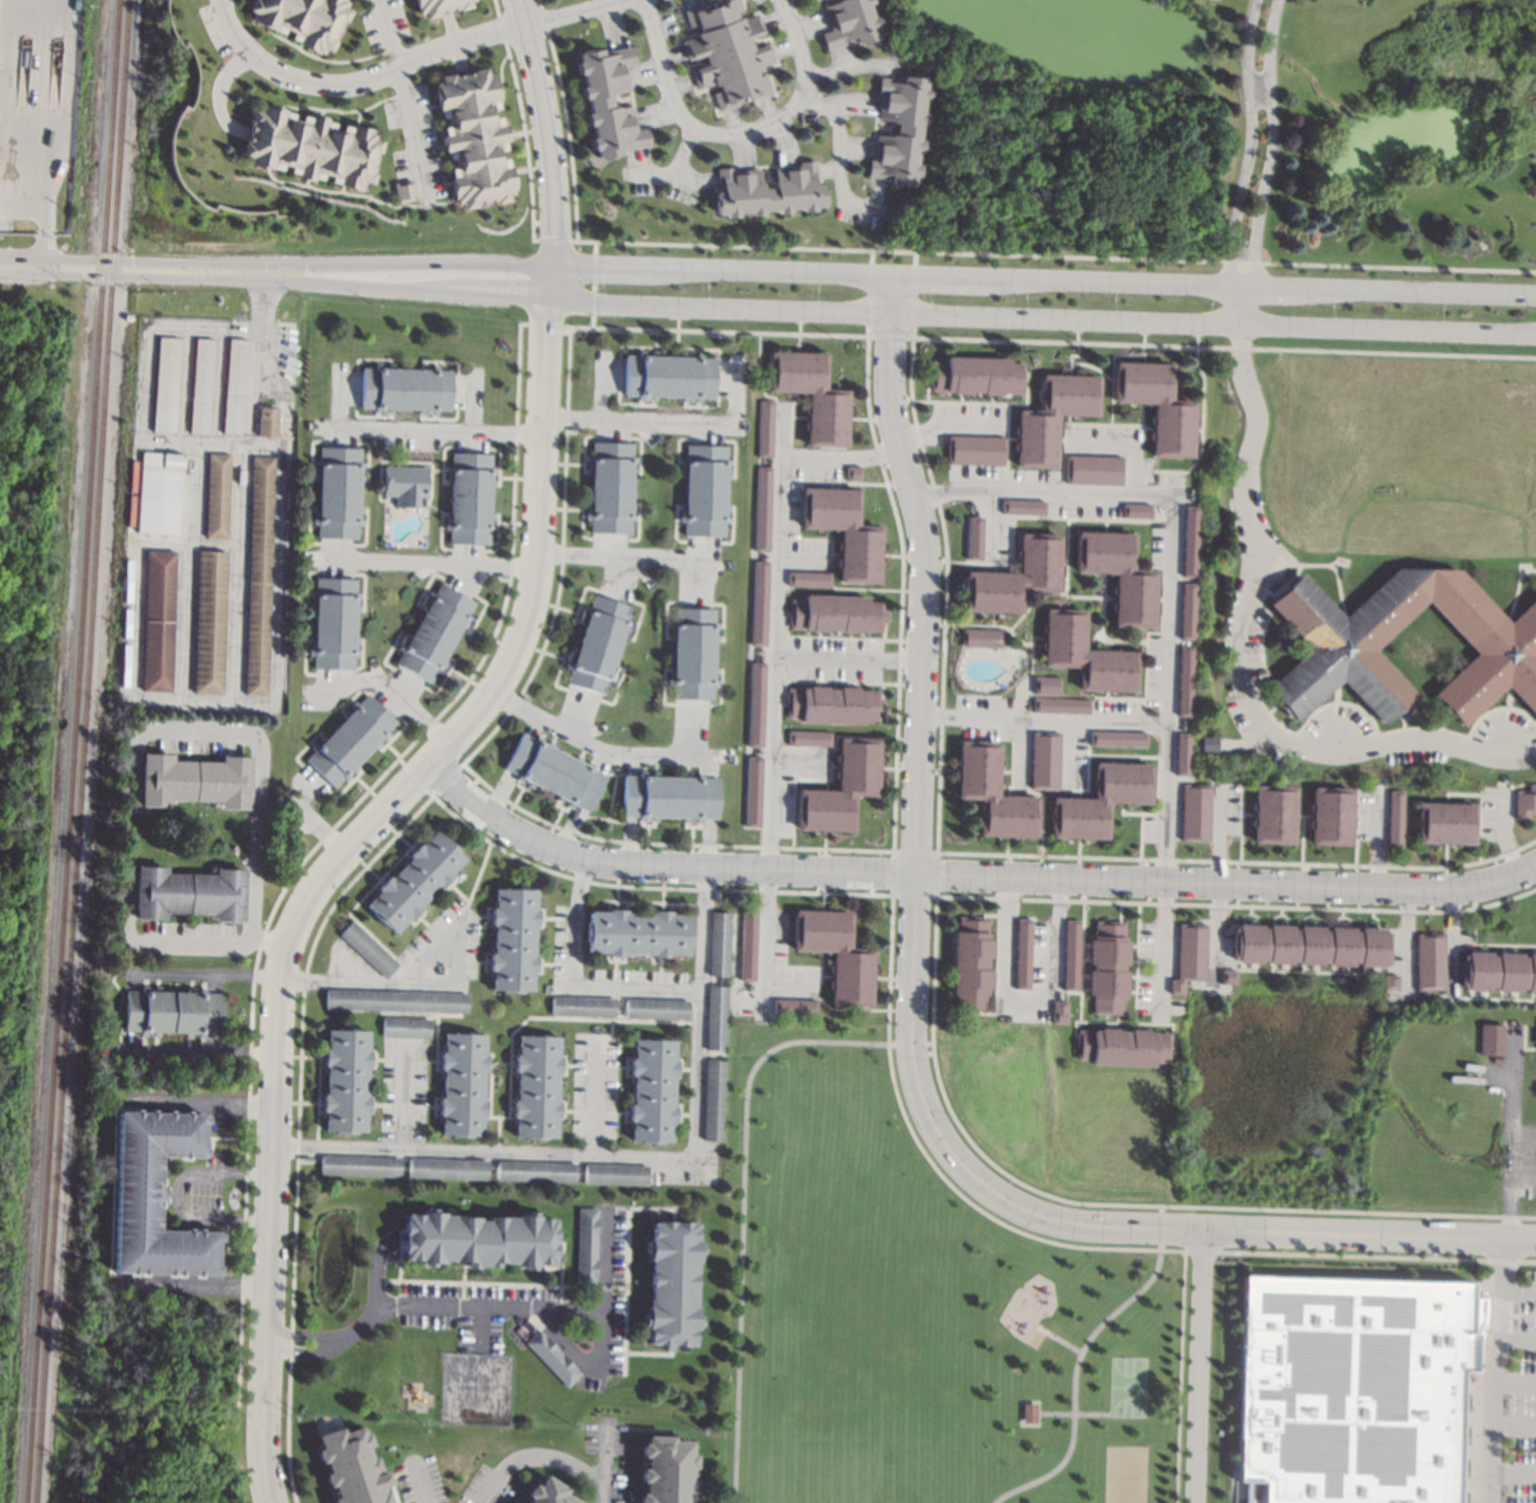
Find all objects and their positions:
building: (438, 7)
road: (574, 13)
building: (304, 19)
building: (849, 22)
road: (388, 34)
building: (728, 52)
road: (354, 81)
road: (218, 83)
building: (610, 101)
road: (410, 128)
building: (900, 129)
road: (735, 130)
road: (32, 131)
building: (473, 139)
road: (546, 140)
building: (312, 147)
road: (683, 149)
road: (839, 150)
road: (1258, 162)
road: (665, 173)
building: (768, 191)
building: (403, 192)
road: (152, 262)
road: (600, 265)
road: (20, 266)
road: (694, 268)
road: (814, 272)
road: (940, 276)
road: (152, 278)
road: (408, 278)
road: (1114, 282)
road: (1263, 287)
road: (1411, 290)
building: (127, 316)
road: (1041, 318)
road: (265, 323)
road: (276, 365)
building: (976, 376)
building: (669, 377)
road: (249, 382)
building: (165, 384)
building: (234, 386)
building: (200, 387)
building: (405, 388)
building: (812, 394)
building: (1156, 405)
building: (1051, 417)
road: (639, 421)
building: (267, 422)
road: (281, 424)
road: (952, 427)
building: (765, 428)
building: (572, 430)
road: (432, 433)
road: (246, 435)
road: (237, 440)
road: (1125, 445)
building: (974, 450)
road: (844, 455)
building: (1093, 470)
building: (853, 473)
building: (405, 485)
building: (610, 487)
building: (704, 490)
building: (337, 492)
building: (159, 493)
building: (216, 495)
building: (468, 498)
building: (1024, 507)
building: (762, 509)
building: (1135, 510)
road: (990, 524)
building: (844, 531)
building: (975, 539)
road: (537, 540)
building: (1189, 541)
road: (804, 559)
road: (628, 560)
road: (1174, 560)
road: (425, 566)
road: (931, 571)
building: (258, 575)
building: (1118, 575)
building: (501, 576)
building: (1014, 577)
building: (808, 579)
building: (759, 603)
building: (1187, 611)
building: (835, 614)
building: (157, 620)
building: (208, 621)
building: (332, 623)
building: (433, 632)
building: (1342, 635)
building: (982, 638)
road: (779, 640)
building: (598, 644)
building: (692, 653)
building: (1085, 654)
road: (853, 662)
road: (1237, 663)
building: (1186, 681)
building: (1046, 685)
road: (393, 692)
building: (525, 698)
building: (756, 704)
building: (833, 704)
building: (1060, 705)
road: (1047, 720)
building: (127, 725)
building: (809, 738)
building: (1117, 738)
building: (349, 740)
road: (255, 743)
building: (1208, 743)
road: (1340, 745)
road: (597, 746)
railway: (71, 751)
railway: (81, 751)
road: (1506, 753)
road: (1069, 754)
building: (1183, 754)
building: (1045, 760)
building: (554, 772)
building: (194, 780)
building: (841, 789)
building: (752, 791)
building: (992, 793)
building: (670, 797)
building: (1101, 800)
building: (1524, 801)
building: (1194, 812)
building: (1272, 814)
building: (1330, 816)
building: (1394, 818)
road: (317, 822)
building: (1445, 823)
road: (1504, 830)
road: (1221, 834)
road: (1376, 839)
road: (658, 866)
building: (414, 881)
road: (1088, 881)
road: (1400, 891)
building: (188, 893)
building: (716, 897)
road: (1219, 924)
building: (638, 933)
building: (512, 939)
road: (1406, 939)
road: (176, 942)
building: (719, 944)
road: (768, 944)
building: (748, 945)
building: (1308, 945)
building: (367, 949)
road: (914, 950)
building: (835, 953)
road: (1161, 953)
building: (1022, 954)
building: (1070, 955)
building: (1189, 956)
building: (1428, 960)
building: (970, 964)
building: (1106, 967)
building: (1497, 971)
building: (1226, 976)
road: (202, 977)
building: (1389, 981)
road: (443, 982)
road: (574, 983)
road: (792, 989)
road: (1025, 999)
building: (396, 1000)
building: (582, 1006)
building: (795, 1006)
building: (656, 1008)
building: (172, 1011)
building: (1058, 1012)
building: (718, 1017)
building: (404, 1027)
building: (1490, 1039)
building: (1121, 1046)
road: (195, 1053)
building: (1496, 1060)
building: (344, 1080)
building: (461, 1083)
building: (536, 1086)
building: (652, 1089)
road: (403, 1096)
road: (595, 1099)
building: (713, 1100)
road: (202, 1105)
road: (278, 1107)
road: (1509, 1132)
road: (1522, 1134)
road: (628, 1156)
building: (304, 1158)
parking lot: (1522, 1160)
building: (359, 1166)
building: (447, 1168)
building: (535, 1171)
building: (615, 1173)
road: (1522, 1176)
road: (174, 1194)
building: (155, 1196)
road: (743, 1201)
road: (1107, 1227)
building: (477, 1239)
road: (1479, 1239)
building: (584, 1246)
building: (670, 1283)
road: (195, 1286)
road: (376, 1286)
road: (1520, 1290)
road: (464, 1306)
park: (922, 1310)
road: (480, 1329)
road: (1518, 1334)
road: (302, 1336)
road: (601, 1337)
road: (303, 1349)
building: (551, 1358)
road: (1198, 1366)
road: (1074, 1371)
road: (1493, 1371)
road: (1514, 1381)
park: (1128, 1388)
building: (1353, 1388)
parking lot: (1514, 1396)
building: (1029, 1413)
road: (1513, 1423)
road: (604, 1451)
road: (544, 1455)
building: (351, 1467)
building: (666, 1470)
road: (1511, 1472)
park: (1125, 1475)
road: (422, 1480)
park: (795, 1492)
building: (548, 1493)

